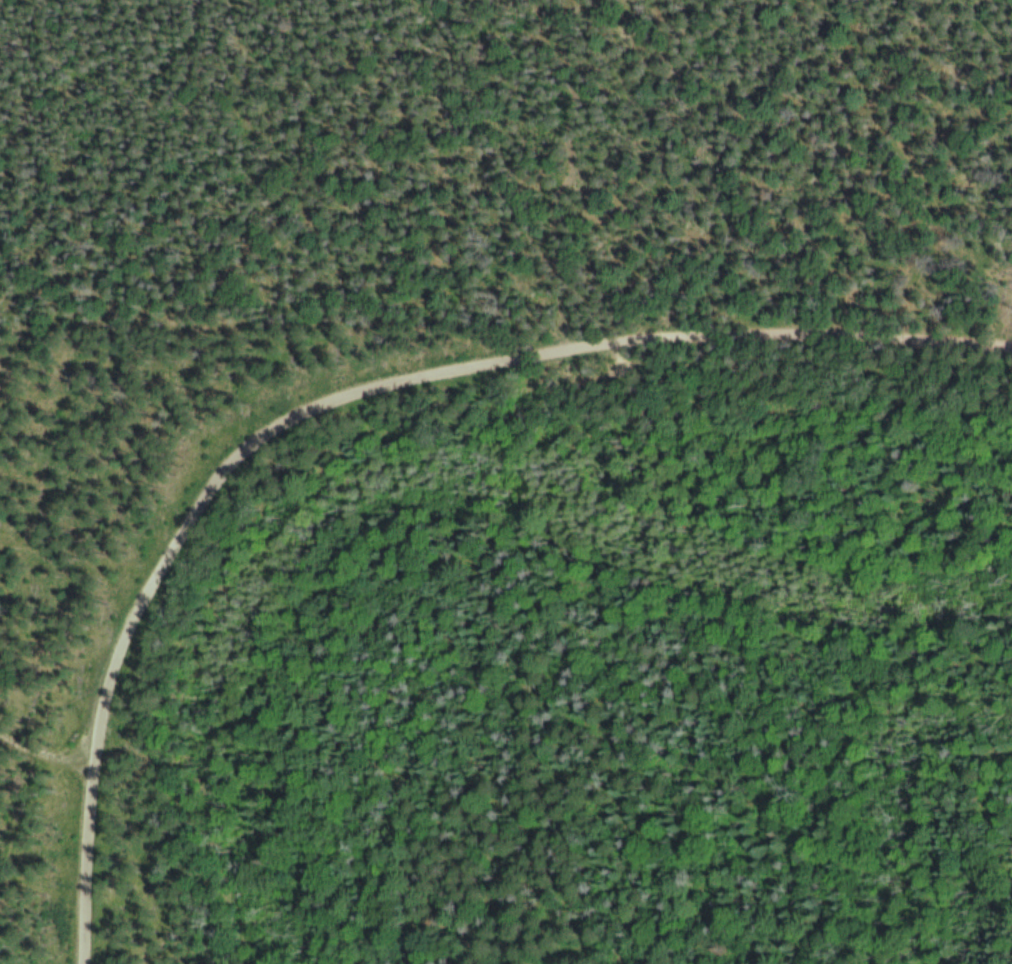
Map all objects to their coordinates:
road: (348, 394)
road: (48, 721)

